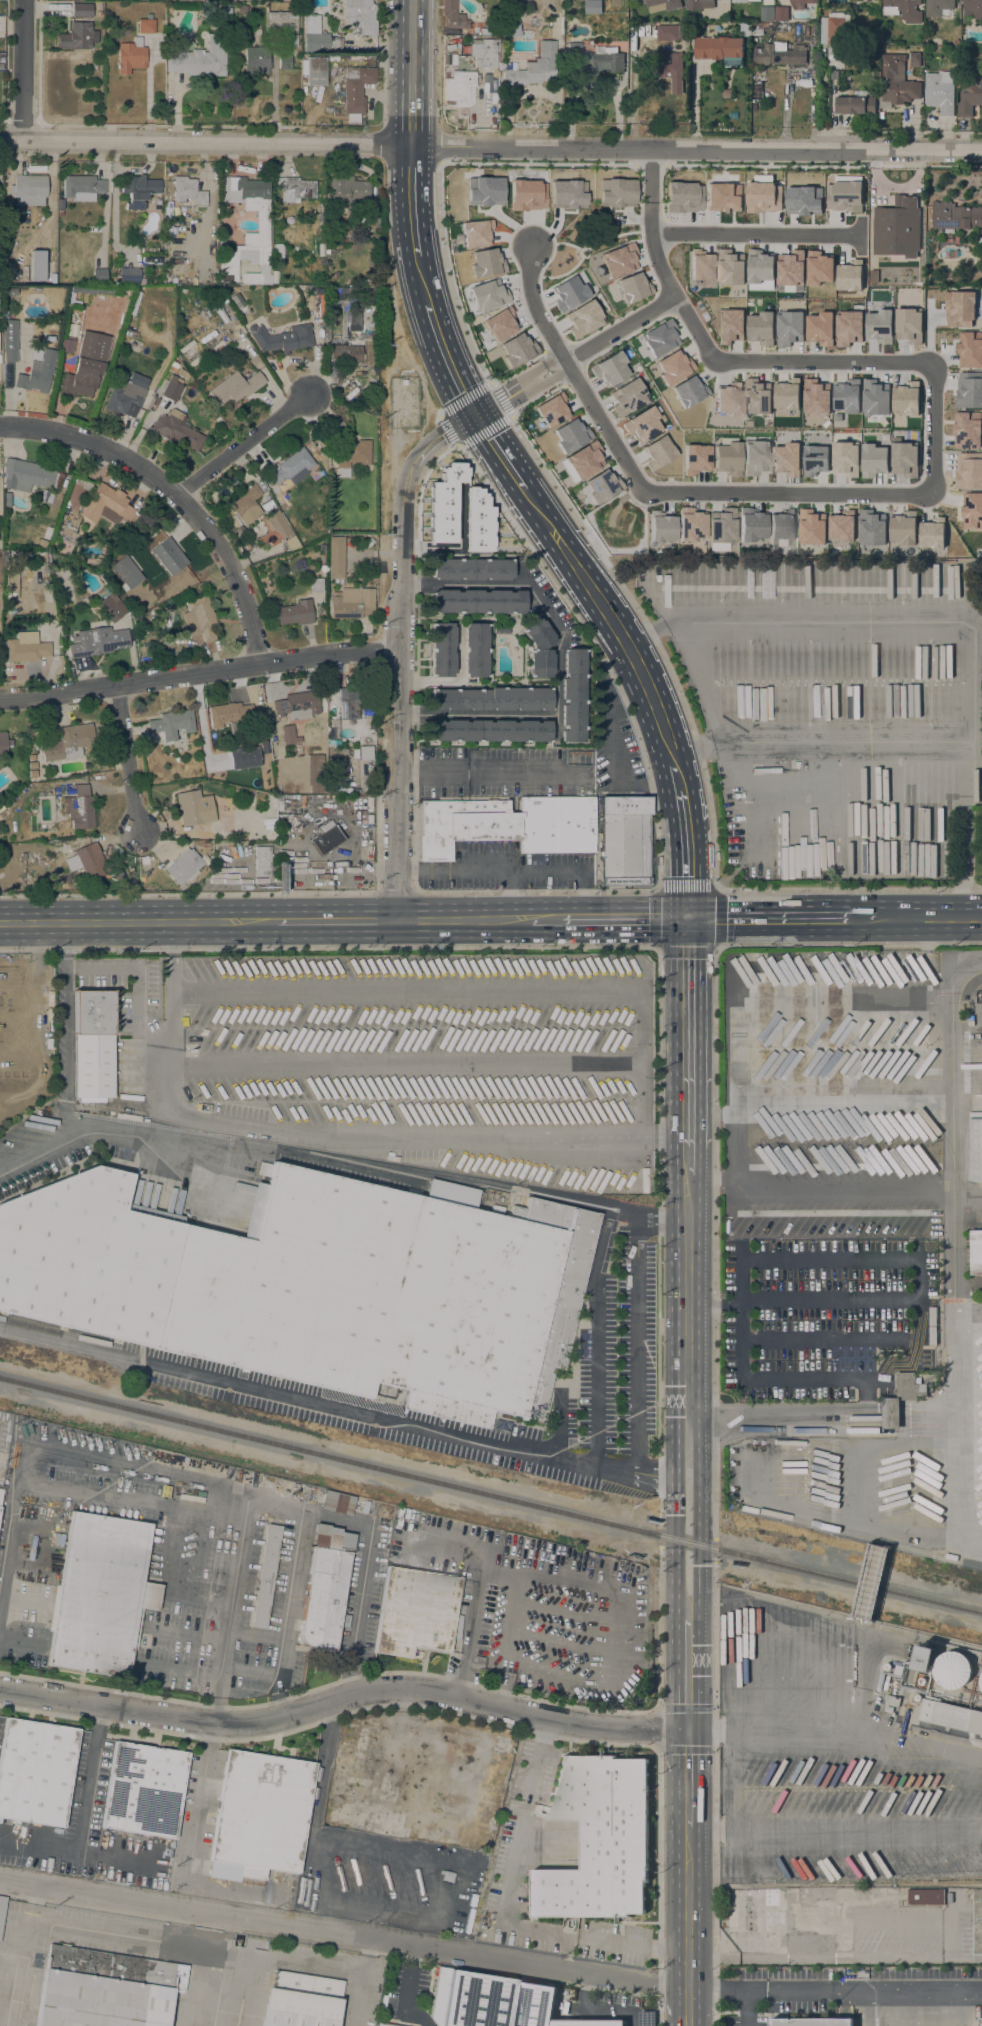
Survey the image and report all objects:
building: (631, 0)
building: (743, 0)
building: (800, 3)
building: (698, 4)
building: (662, 5)
building: (593, 7)
building: (721, 7)
building: (937, 7)
building: (972, 8)
building: (903, 10)
building: (81, 11)
building: (224, 12)
building: (767, 13)
building: (781, 13)
building: (360, 15)
building: (452, 16)
building: (282, 25)
building: (145, 26)
building: (511, 29)
building: (747, 29)
building: (757, 29)
building: (814, 29)
building: (671, 32)
building: (835, 32)
building: (316, 34)
building: (76, 36)
building: (256, 36)
building: (955, 41)
building: (718, 47)
building: (486, 54)
building: (779, 54)
building: (130, 55)
building: (82, 56)
building: (333, 58)
building: (354, 58)
building: (596, 58)
building: (200, 59)
building: (915, 59)
building: (256, 61)
building: (286, 62)
building: (535, 67)
building: (957, 68)
road: (21, 71)
building: (315, 71)
building: (676, 72)
road: (410, 73)
building: (834, 75)
building: (897, 82)
building: (457, 88)
building: (355, 91)
building: (940, 91)
road: (633, 92)
building: (728, 93)
building: (969, 94)
building: (856, 103)
road: (437, 146)
road: (490, 147)
road: (518, 164)
road: (650, 175)
road: (410, 185)
building: (81, 188)
building: (295, 189)
building: (28, 190)
building: (138, 190)
building: (187, 190)
building: (346, 190)
building: (724, 197)
building: (764, 197)
building: (683, 198)
building: (805, 200)
building: (59, 213)
building: (370, 214)
building: (956, 216)
building: (896, 218)
building: (263, 222)
road: (752, 234)
building: (278, 252)
building: (49, 263)
building: (36, 265)
building: (100, 275)
building: (129, 275)
building: (211, 279)
building: (12, 292)
building: (339, 293)
building: (487, 295)
road: (654, 308)
building: (959, 308)
building: (318, 317)
road: (432, 322)
building: (908, 324)
building: (499, 325)
building: (878, 326)
building: (789, 327)
building: (848, 327)
building: (760, 328)
building: (820, 328)
building: (281, 338)
building: (9, 340)
building: (66, 345)
building: (356, 345)
building: (969, 349)
building: (183, 350)
building: (36, 355)
road: (784, 362)
building: (86, 365)
building: (173, 367)
building: (670, 367)
building: (609, 369)
building: (37, 373)
building: (235, 387)
building: (171, 389)
building: (969, 389)
building: (686, 391)
road: (511, 394)
building: (787, 394)
building: (127, 395)
building: (846, 395)
building: (756, 396)
building: (626, 397)
building: (816, 397)
building: (875, 397)
building: (906, 398)
building: (728, 400)
building: (551, 410)
traffic signals: (475, 416)
building: (641, 425)
building: (175, 429)
building: (966, 429)
road: (447, 431)
building: (570, 434)
road: (241, 445)
road: (494, 448)
building: (656, 451)
building: (352, 457)
building: (755, 457)
building: (727, 458)
building: (845, 458)
building: (904, 458)
building: (695, 459)
building: (786, 459)
building: (815, 459)
building: (873, 459)
building: (581, 462)
building: (292, 467)
building: (968, 470)
building: (29, 475)
building: (600, 486)
road: (713, 493)
road: (175, 495)
building: (106, 505)
building: (246, 505)
building: (971, 510)
building: (441, 513)
building: (291, 517)
building: (272, 520)
building: (476, 522)
building: (690, 524)
building: (750, 525)
building: (781, 525)
building: (721, 526)
building: (841, 526)
building: (69, 527)
building: (660, 527)
building: (811, 527)
building: (871, 527)
building: (903, 527)
building: (314, 531)
building: (931, 534)
building: (322, 549)
building: (168, 556)
building: (32, 557)
building: (335, 558)
building: (324, 569)
building: (470, 569)
building: (107, 579)
building: (315, 585)
building: (101, 593)
building: (477, 602)
building: (351, 603)
building: (113, 610)
building: (291, 613)
building: (199, 618)
road: (613, 623)
building: (500, 630)
building: (97, 642)
building: (27, 648)
building: (538, 648)
road: (396, 650)
building: (441, 650)
building: (474, 650)
road: (556, 660)
road: (197, 672)
building: (571, 695)
building: (491, 699)
building: (352, 702)
building: (297, 705)
building: (227, 714)
building: (172, 724)
building: (489, 731)
building: (285, 732)
building: (3, 743)
building: (68, 743)
road: (933, 743)
road: (719, 745)
road: (689, 748)
building: (231, 750)
building: (365, 752)
road: (127, 756)
building: (30, 757)
road: (701, 760)
building: (314, 763)
building: (795, 764)
building: (30, 766)
road: (431, 772)
building: (30, 773)
road: (526, 773)
building: (248, 775)
building: (46, 778)
building: (262, 785)
road: (681, 797)
building: (78, 807)
building: (194, 808)
building: (514, 821)
building: (271, 829)
building: (326, 838)
building: (624, 840)
building: (32, 856)
building: (262, 861)
building: (85, 862)
road: (686, 863)
building: (183, 866)
road: (715, 888)
road: (556, 891)
road: (397, 892)
road: (188, 894)
road: (928, 917)
traffic signals: (687, 918)
road: (765, 918)
road: (860, 918)
road: (464, 919)
road: (545, 919)
road: (623, 919)
road: (334, 920)
road: (135, 922)
road: (848, 945)
building: (865, 968)
road: (16, 979)
road: (478, 991)
road: (137, 993)
building: (961, 1007)
road: (16, 1020)
road: (32, 1023)
road: (688, 1032)
building: (93, 1046)
road: (65, 1053)
road: (16, 1056)
parking lot: (435, 1058)
road: (405, 1064)
road: (332, 1135)
road: (254, 1145)
building: (975, 1149)
road: (688, 1164)
road: (715, 1175)
road: (765, 1181)
road: (602, 1204)
road: (951, 1204)
building: (496, 1209)
road: (870, 1216)
building: (976, 1252)
building: (316, 1284)
road: (688, 1298)
road: (829, 1301)
road: (715, 1306)
building: (932, 1326)
road: (594, 1334)
road: (659, 1335)
road: (636, 1342)
road: (904, 1362)
road: (866, 1398)
building: (901, 1398)
road: (336, 1407)
road: (821, 1417)
road: (715, 1428)
road: (72, 1456)
building: (0, 1491)
railway: (490, 1496)
building: (337, 1503)
road: (276, 1508)
road: (675, 1513)
traffic signals: (675, 1515)
road: (699, 1521)
traffic signals: (700, 1565)
building: (266, 1575)
road: (872, 1582)
building: (325, 1589)
building: (100, 1595)
road: (475, 1598)
road: (288, 1603)
building: (416, 1612)
road: (685, 1621)
building: (924, 1658)
building: (953, 1669)
road: (349, 1677)
road: (688, 1679)
building: (922, 1681)
building: (981, 1681)
building: (981, 1689)
road: (343, 1697)
building: (918, 1697)
building: (893, 1700)
road: (279, 1704)
road: (216, 1710)
building: (951, 1715)
road: (464, 1716)
road: (657, 1728)
traffic signals: (688, 1730)
road: (715, 1740)
building: (36, 1771)
road: (688, 1779)
building: (144, 1790)
building: (259, 1816)
road: (197, 1817)
road: (78, 1834)
building: (599, 1839)
road: (688, 1856)
building: (447, 1877)
building: (925, 1896)
building: (949, 1897)
building: (2, 1909)
road: (500, 1914)
road: (343, 1936)
road: (688, 1955)
airport apron: (171, 1975)
airport: (253, 1981)
airport hangar: (106, 1989)
building: (106, 1989)
road: (834, 1992)
airport hangar: (301, 2001)
building: (301, 2001)
building: (496, 2002)
airport apron: (495, 2003)
road: (598, 2007)
road: (749, 2009)
parking lot: (748, 2022)
building: (811, 2022)
building: (981, 2022)
airport hangar: (382, 2025)
building: (382, 2025)

